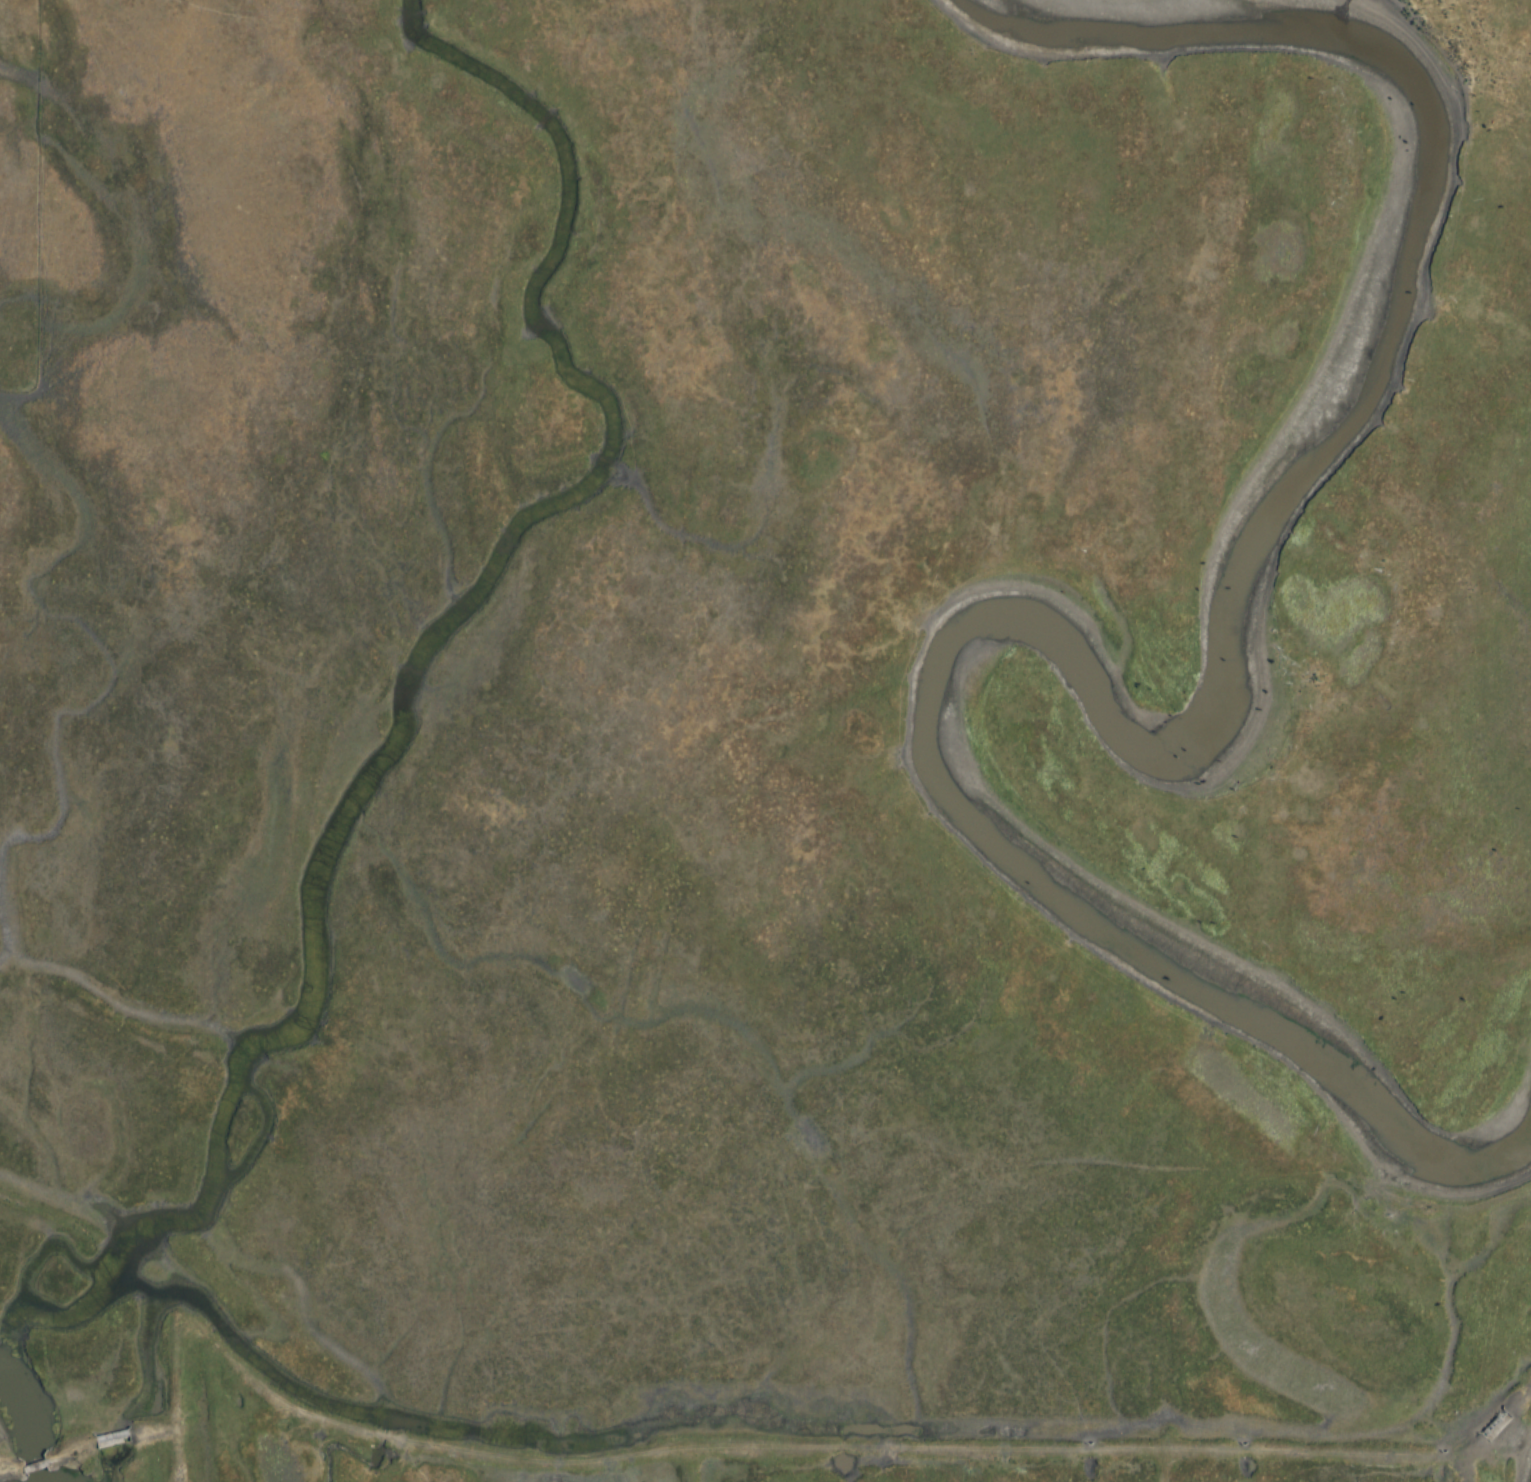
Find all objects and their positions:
river: (1206, 737)

